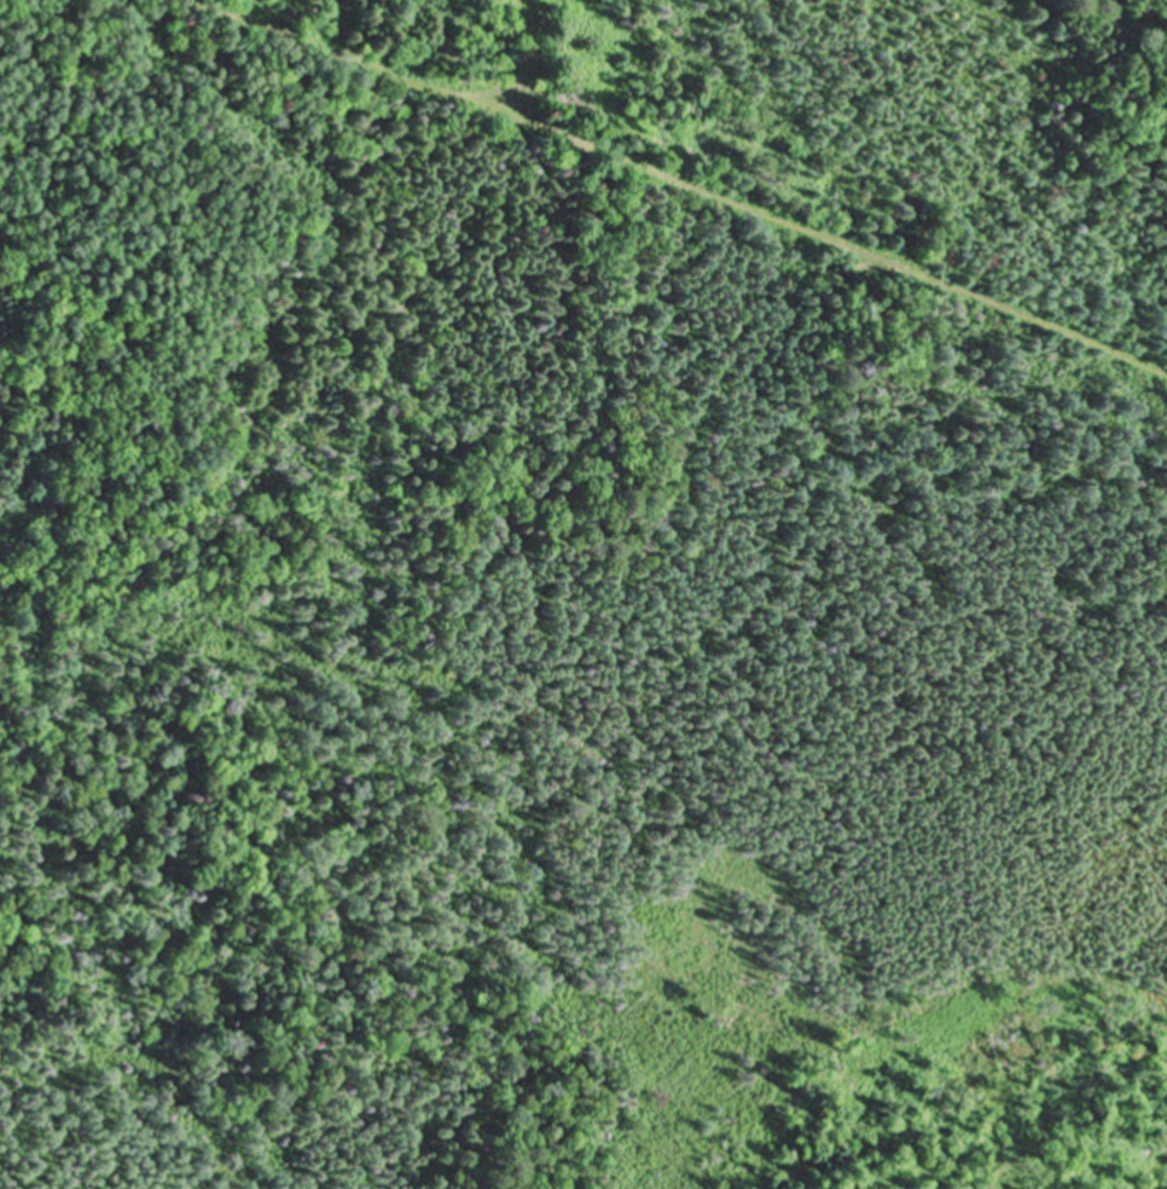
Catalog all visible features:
road: (1153, 1168)

